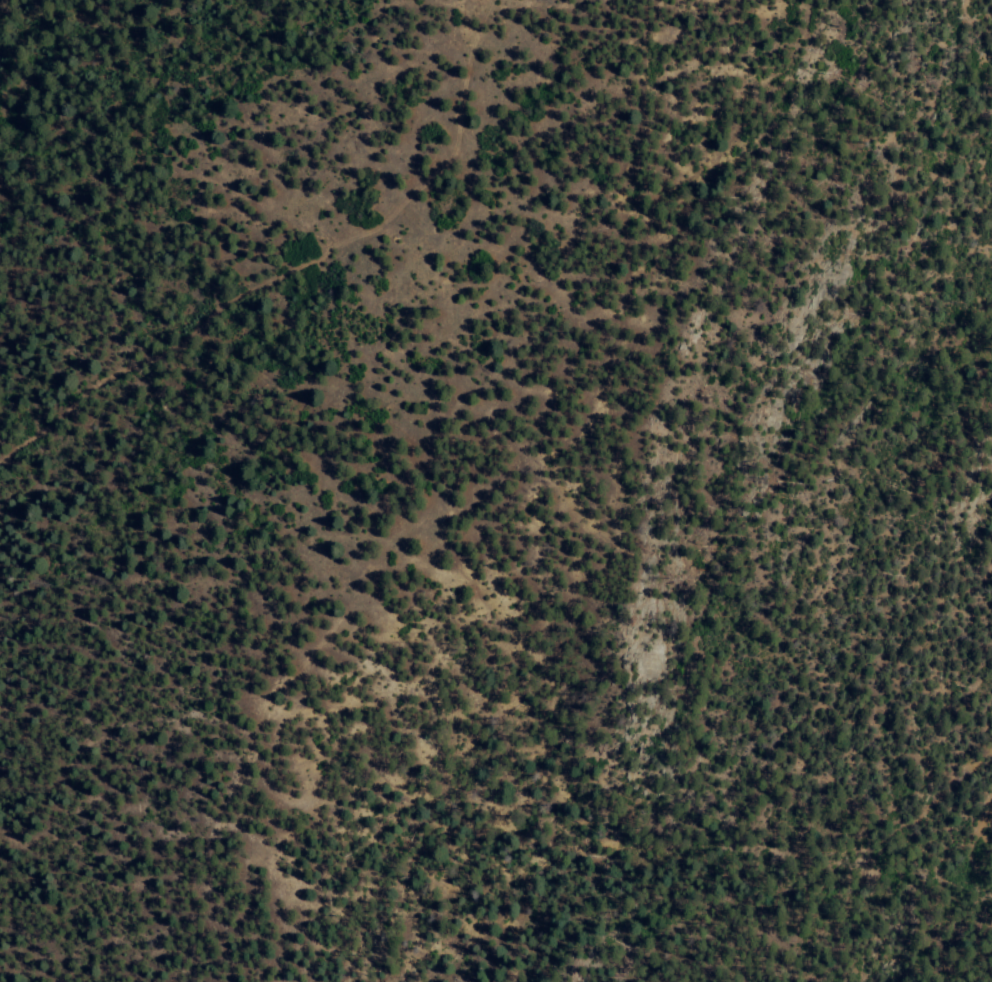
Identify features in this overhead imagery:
road: (304, 294)
road: (355, 639)

